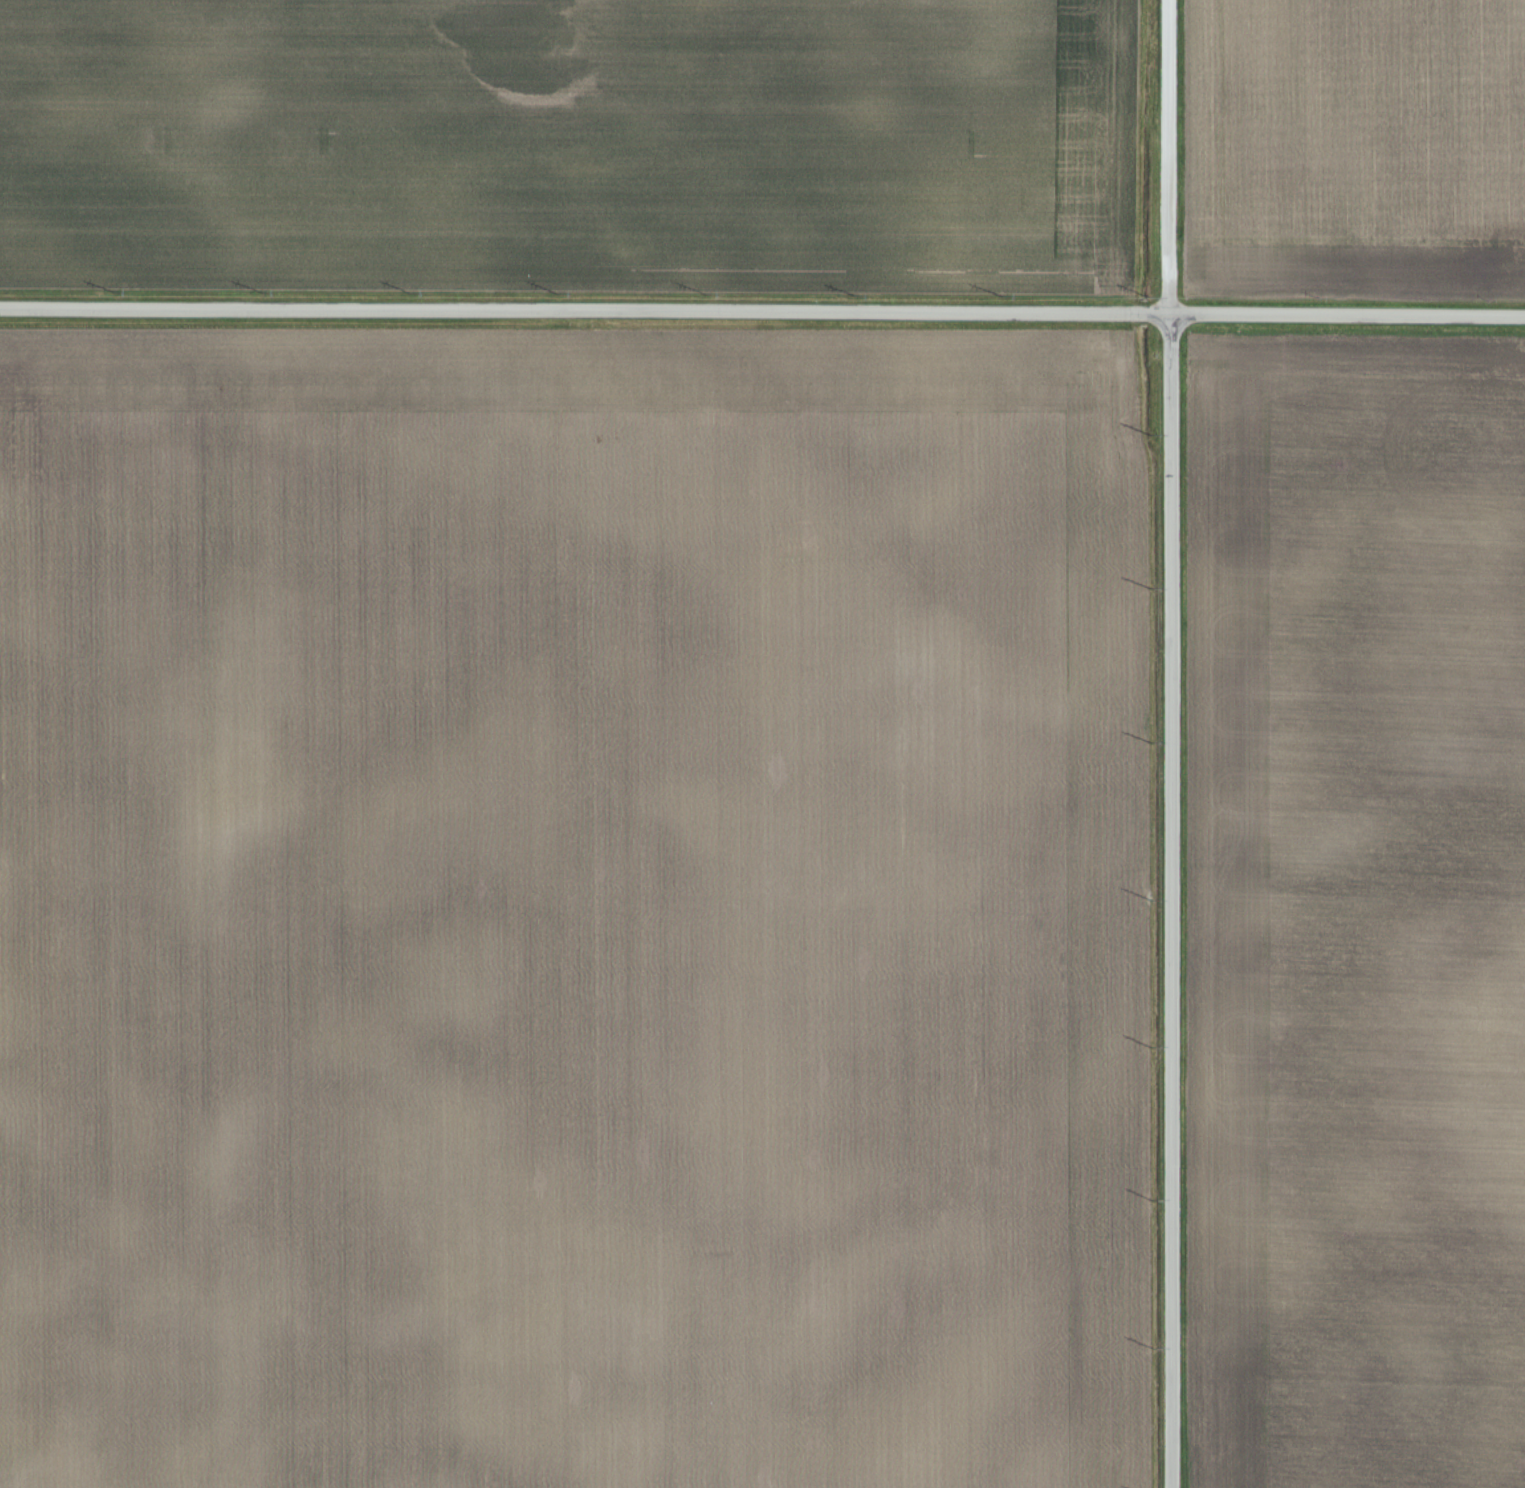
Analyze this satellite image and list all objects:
road: (762, 313)
road: (1166, 744)
crop: (575, 909)

